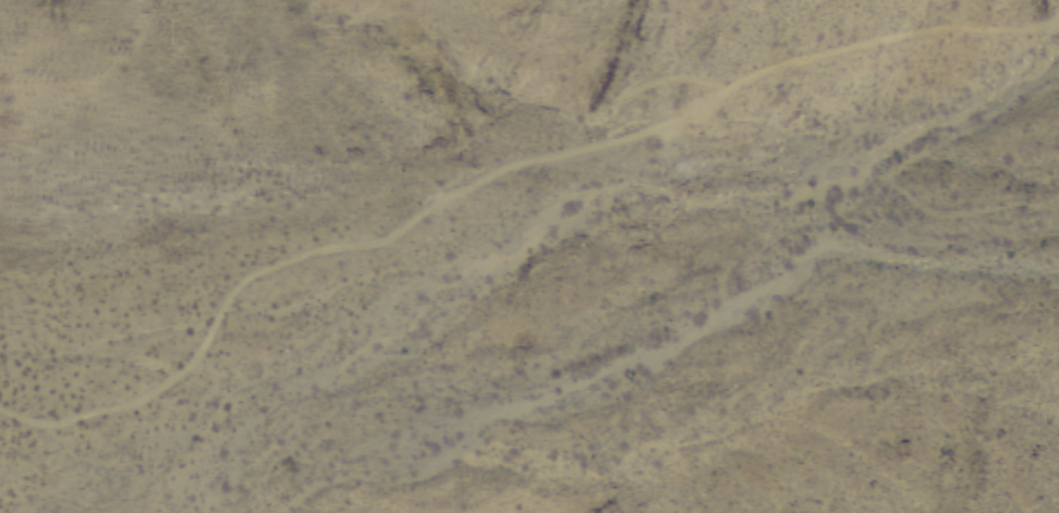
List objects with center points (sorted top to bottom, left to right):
road: (499, 171)

